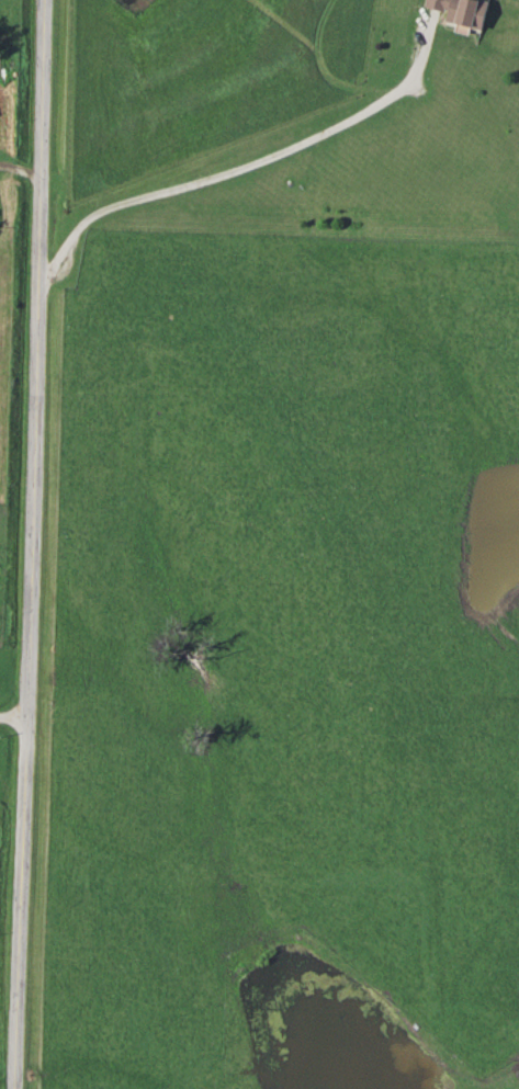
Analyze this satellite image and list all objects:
building: (467, 12)
road: (29, 544)

